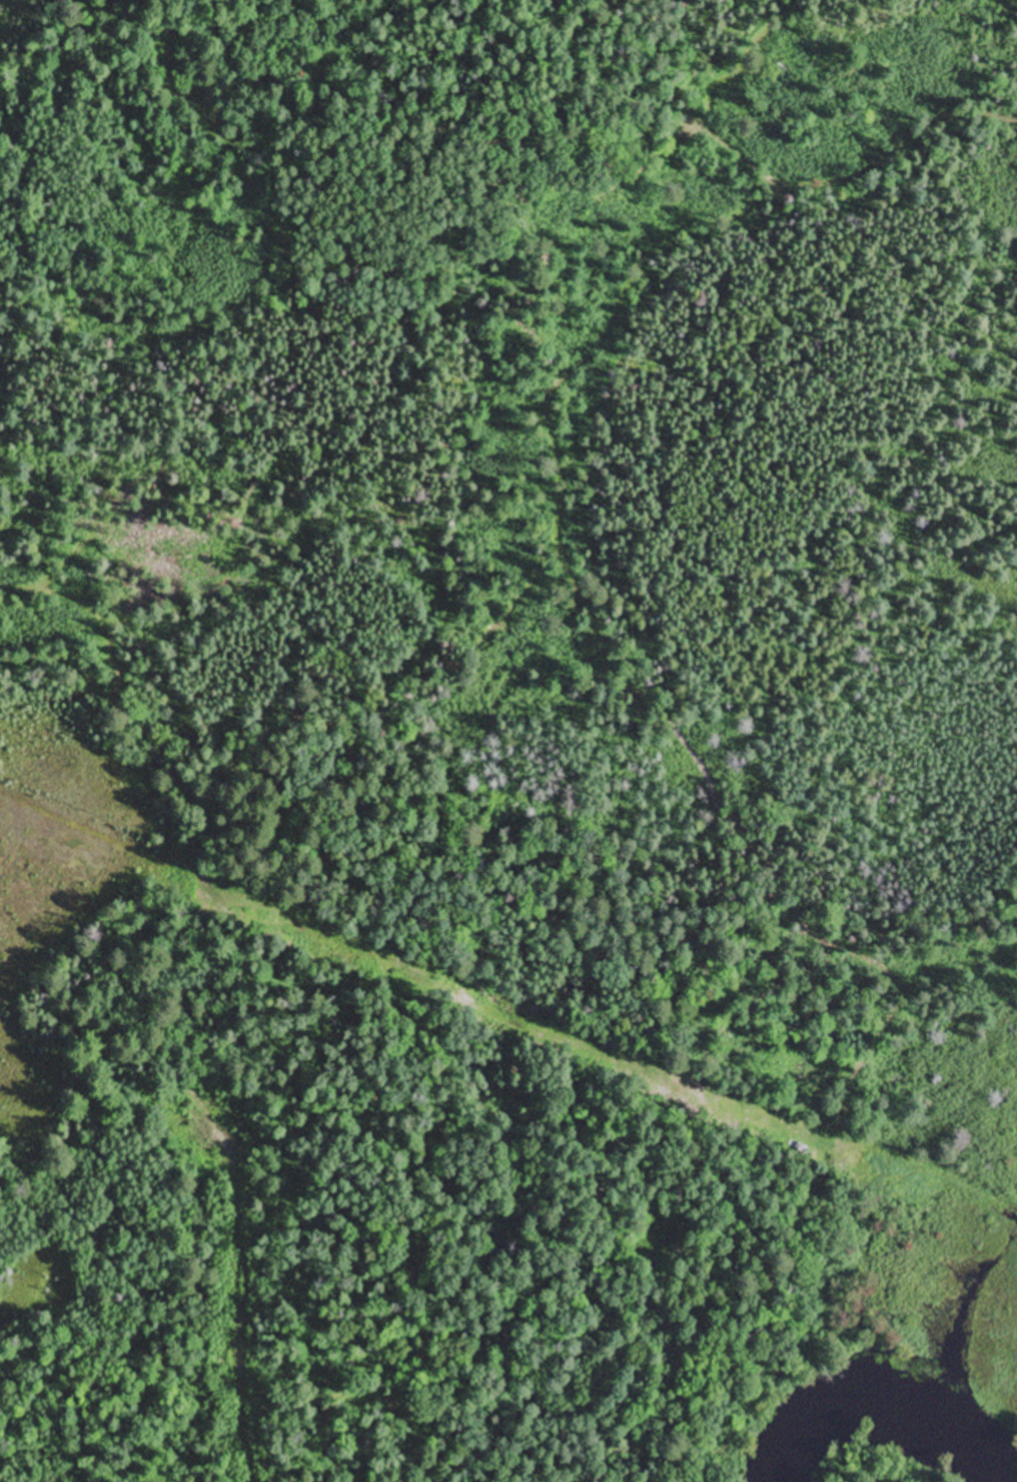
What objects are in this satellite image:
river: (886, 1410)

